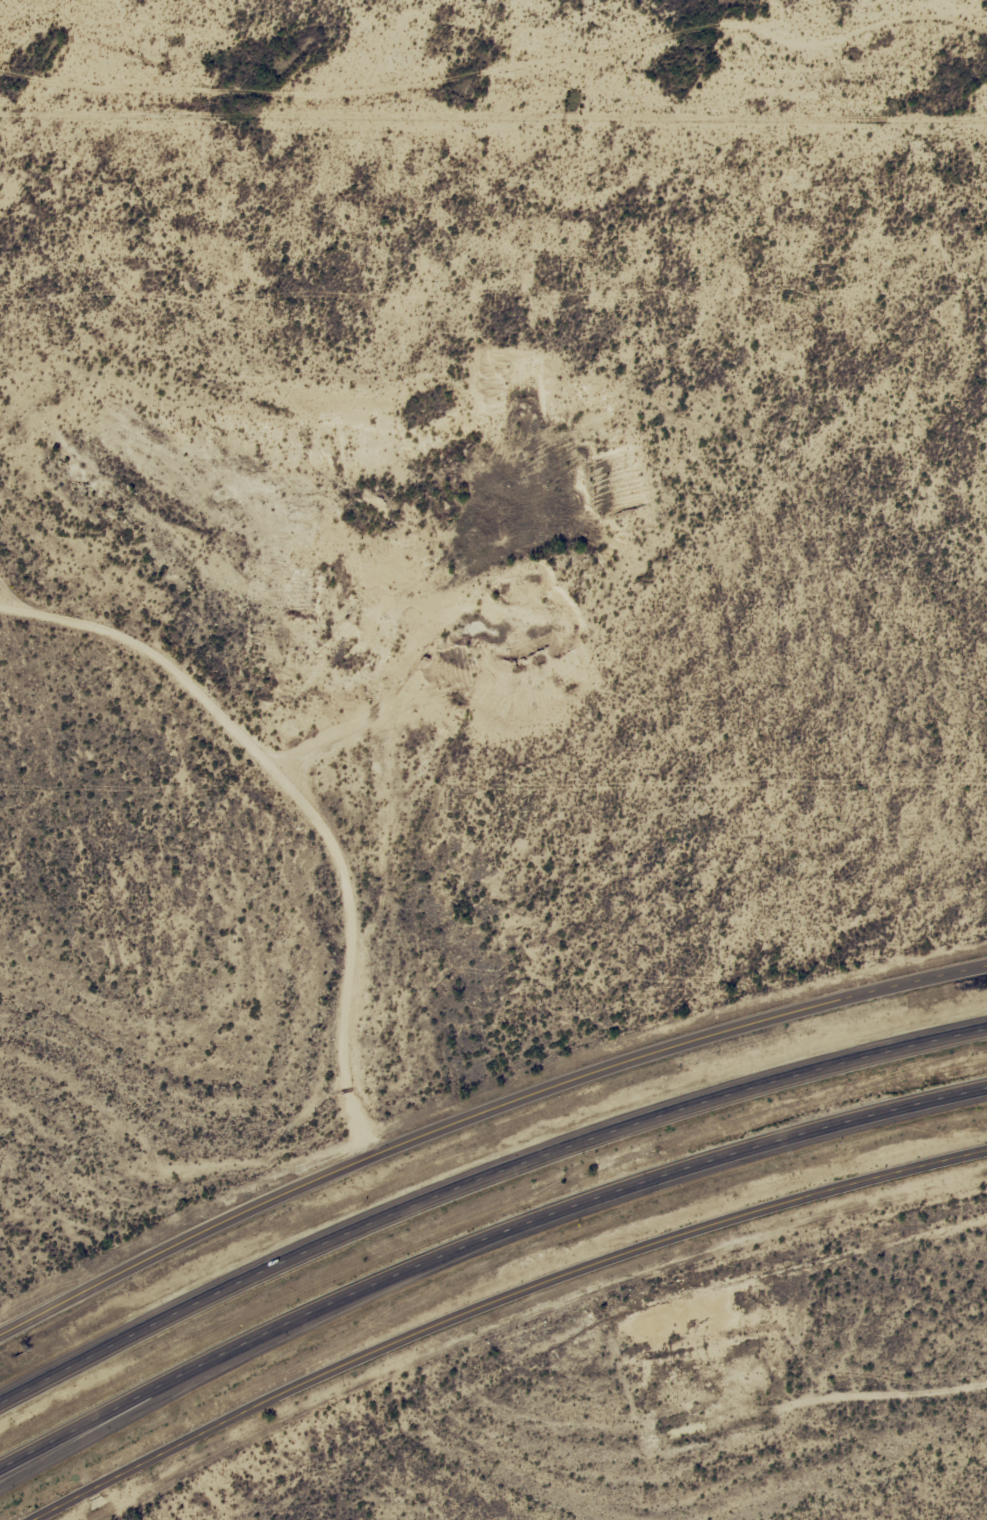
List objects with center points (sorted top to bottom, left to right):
road: (493, 69)
road: (121, 951)
road: (480, 1114)
road: (480, 1175)
road: (478, 1244)
road: (496, 1299)

